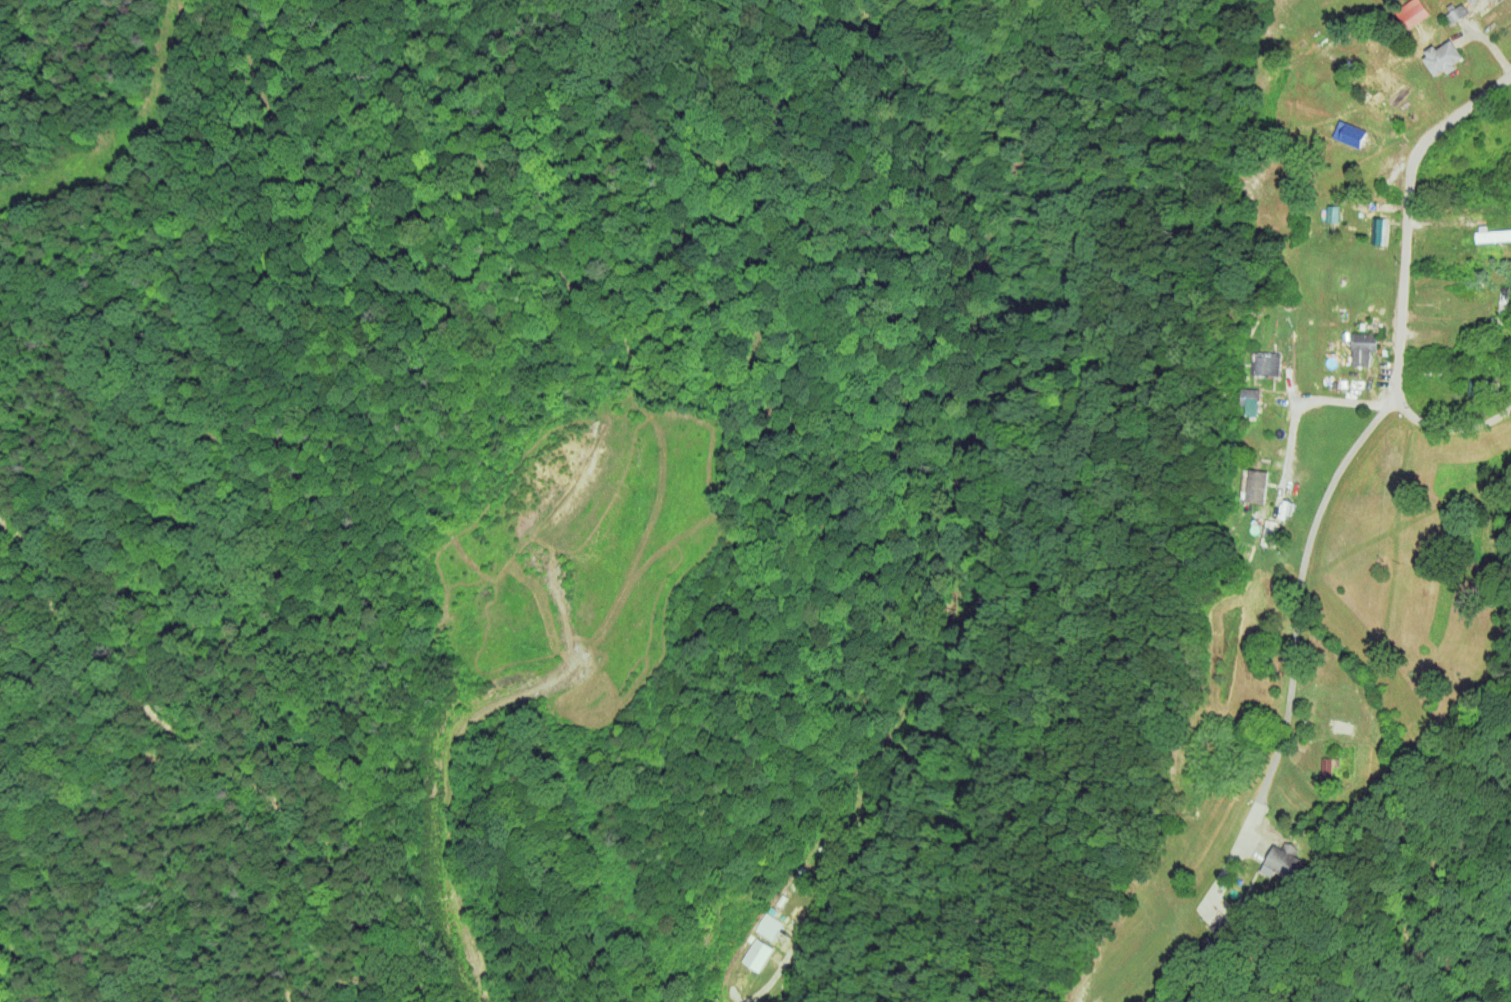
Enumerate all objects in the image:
building: (1472, 1)
building: (1411, 12)
building: (1442, 57)
building: (1375, 103)
building: (1352, 135)
building: (1332, 213)
road: (1406, 213)
building: (1379, 230)
building: (1493, 235)
building: (1363, 347)
building: (1267, 363)
building: (1249, 400)
road: (1294, 409)
road: (1449, 428)
building: (1256, 485)
building: (1268, 532)
road: (1295, 638)
building: (1328, 765)
building: (1284, 862)
road: (243, 884)
building: (1228, 923)

